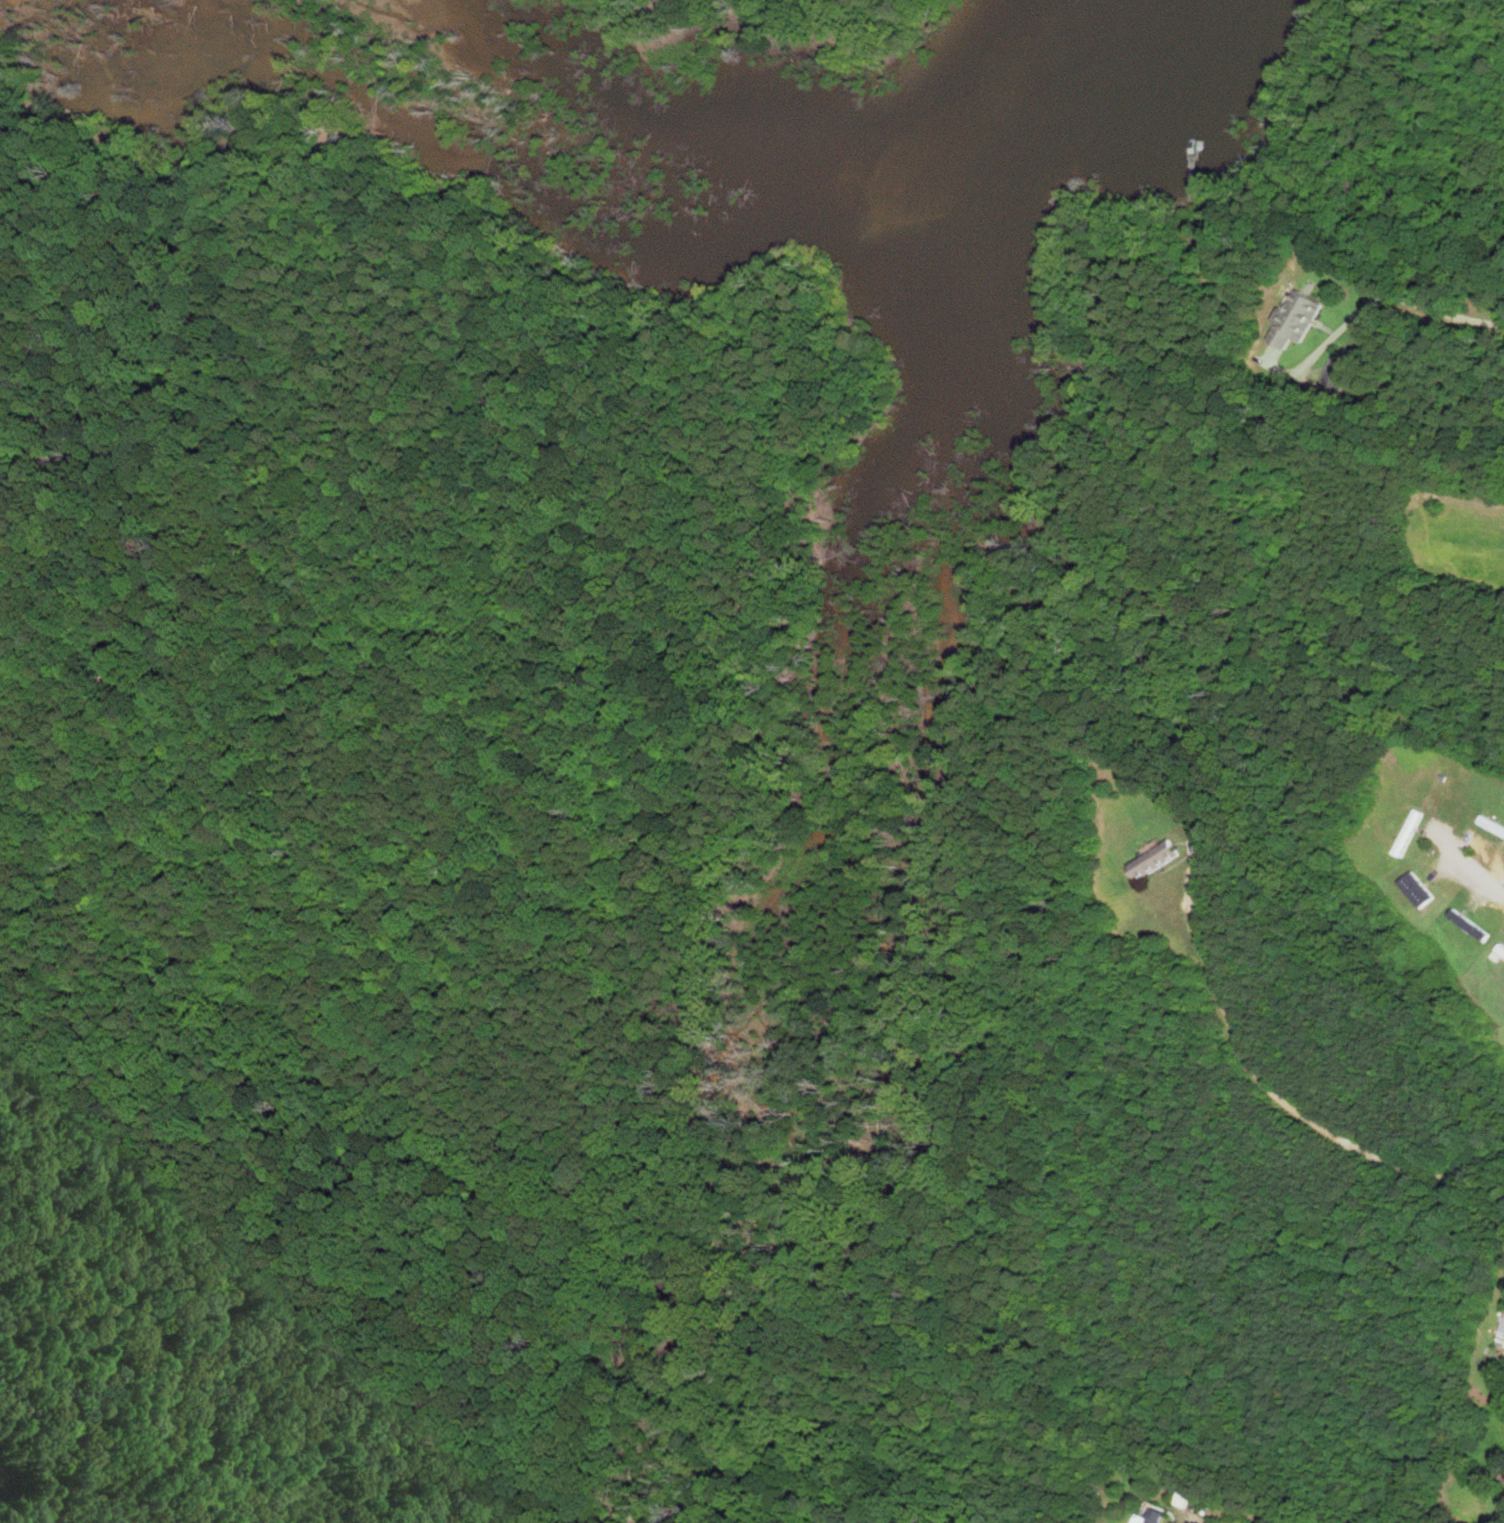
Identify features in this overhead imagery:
road: (1374, 306)
building: (1300, 319)
building: (1337, 377)
building: (1411, 832)
building: (1158, 859)
road: (1477, 868)
building: (1419, 889)
building: (1468, 923)
building: (1502, 950)
road: (1269, 1089)
building: (1154, 1516)

